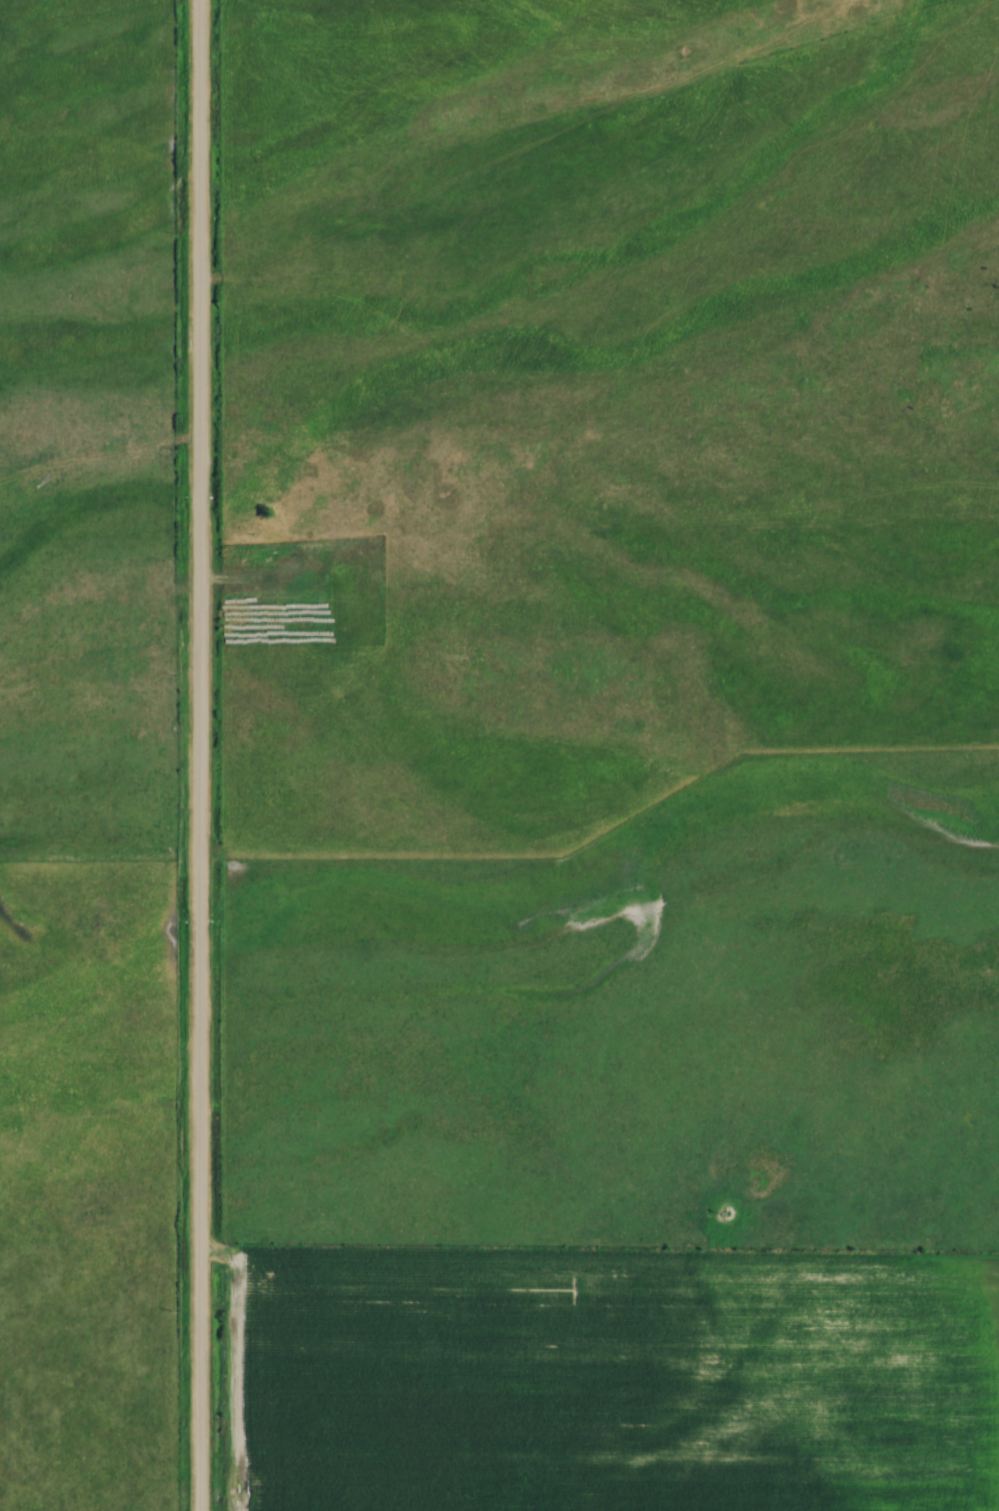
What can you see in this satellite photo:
road: (194, 755)

